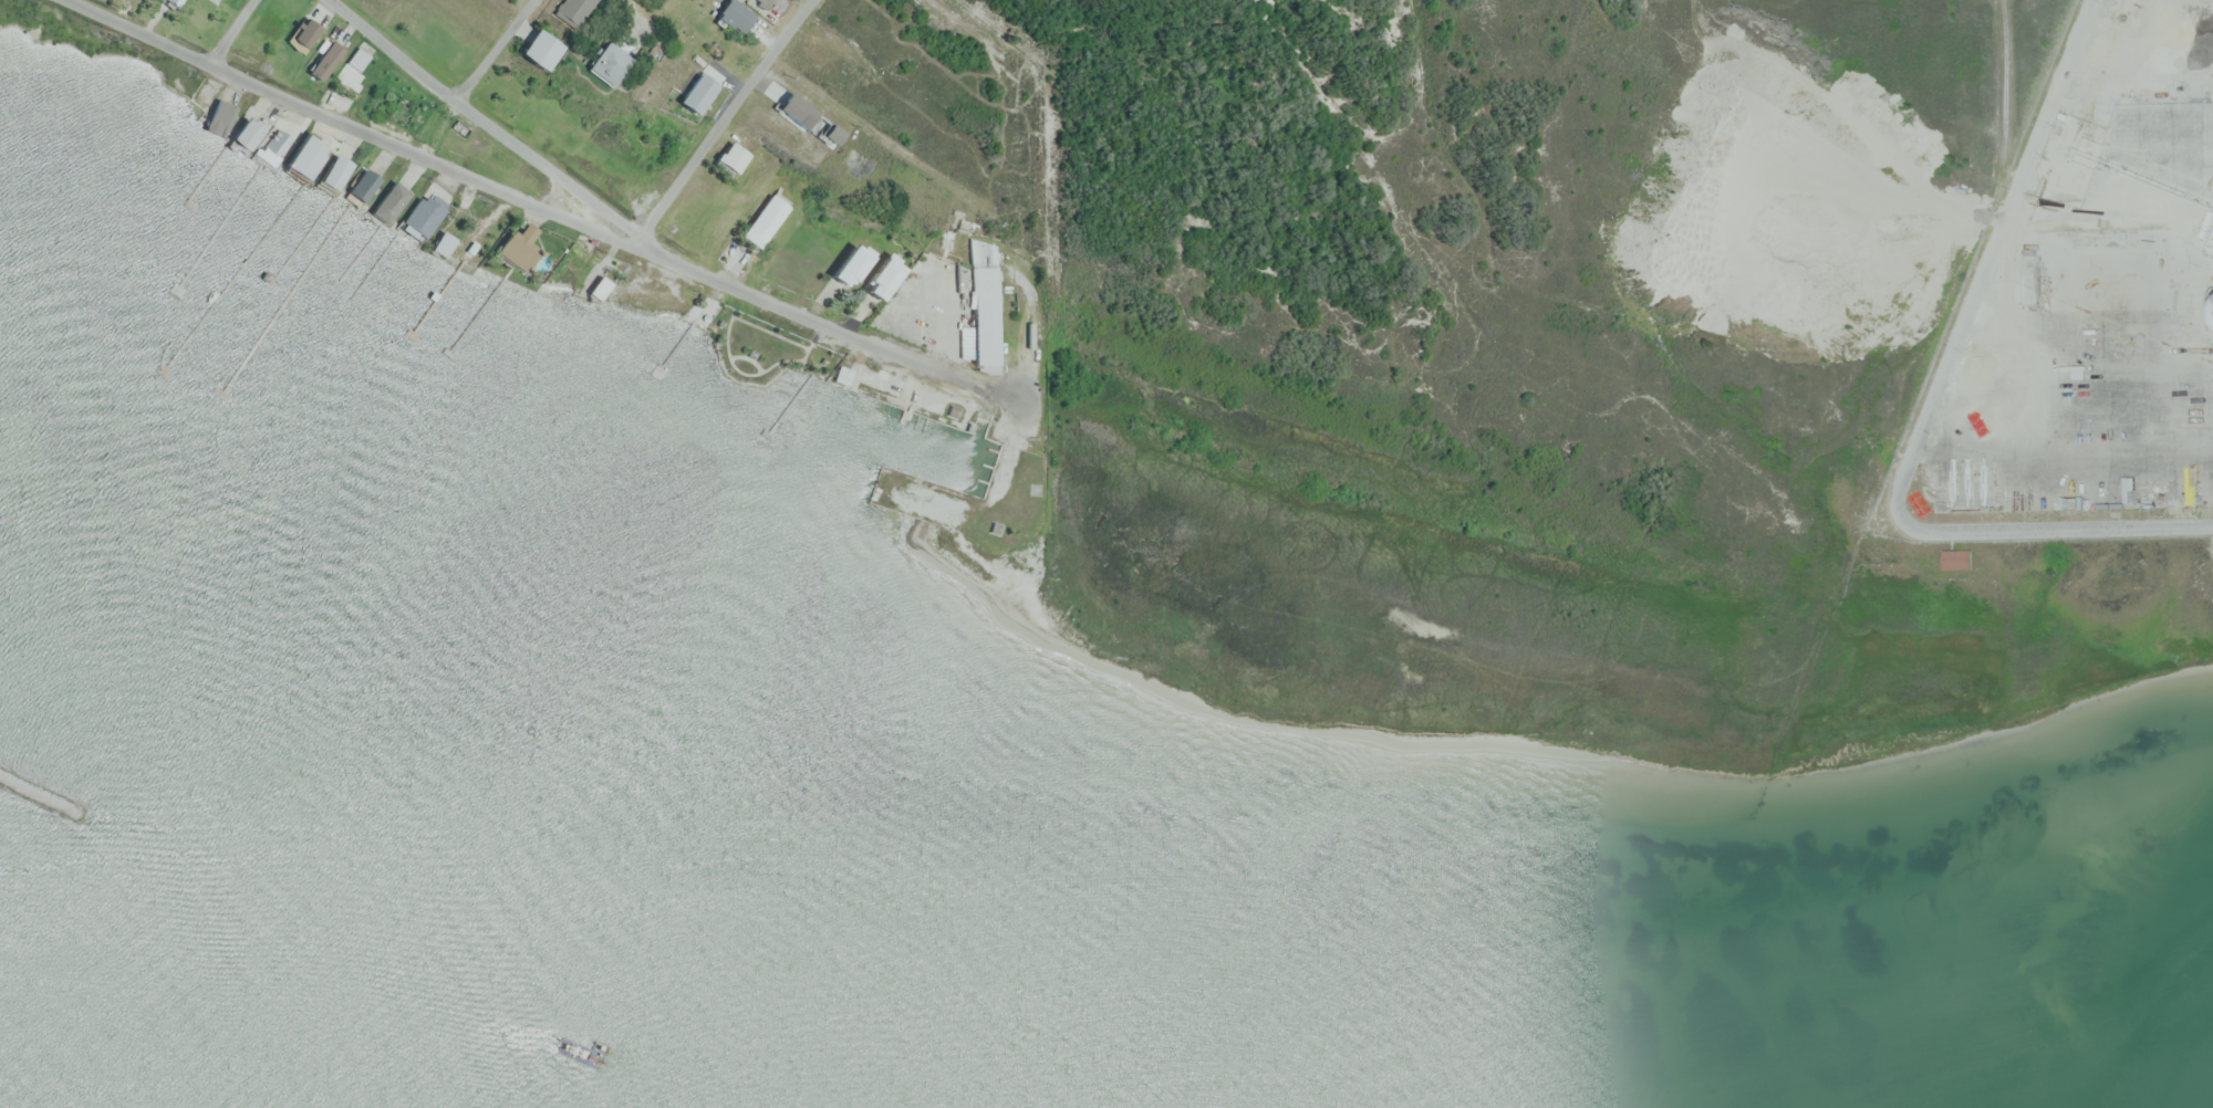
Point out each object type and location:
building: (217, 0)
building: (174, 2)
building: (763, 2)
building: (573, 11)
building: (735, 15)
road: (232, 32)
building: (304, 33)
road: (492, 50)
building: (538, 50)
building: (324, 61)
building: (606, 63)
building: (354, 70)
building: (217, 117)
road: (725, 121)
road: (487, 123)
building: (245, 135)
building: (270, 153)
building: (303, 157)
building: (731, 158)
building: (333, 173)
building: (362, 187)
building: (389, 202)
road: (546, 205)
building: (423, 217)
building: (758, 228)
building: (441, 244)
building: (518, 244)
building: (849, 265)
building: (881, 279)
building: (599, 288)
building: (985, 302)
building: (1957, 558)

